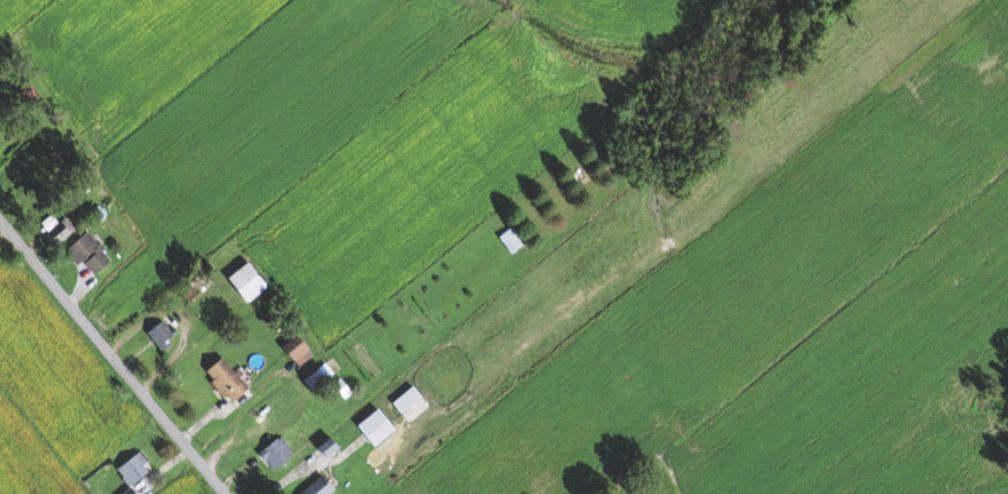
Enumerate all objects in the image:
building: (1, 91)
building: (62, 231)
building: (512, 240)
building: (90, 253)
building: (252, 281)
building: (164, 334)
building: (301, 349)
road: (111, 358)
building: (318, 379)
building: (229, 380)
building: (410, 399)
building: (380, 427)
building: (332, 447)
building: (278, 453)
building: (136, 471)

